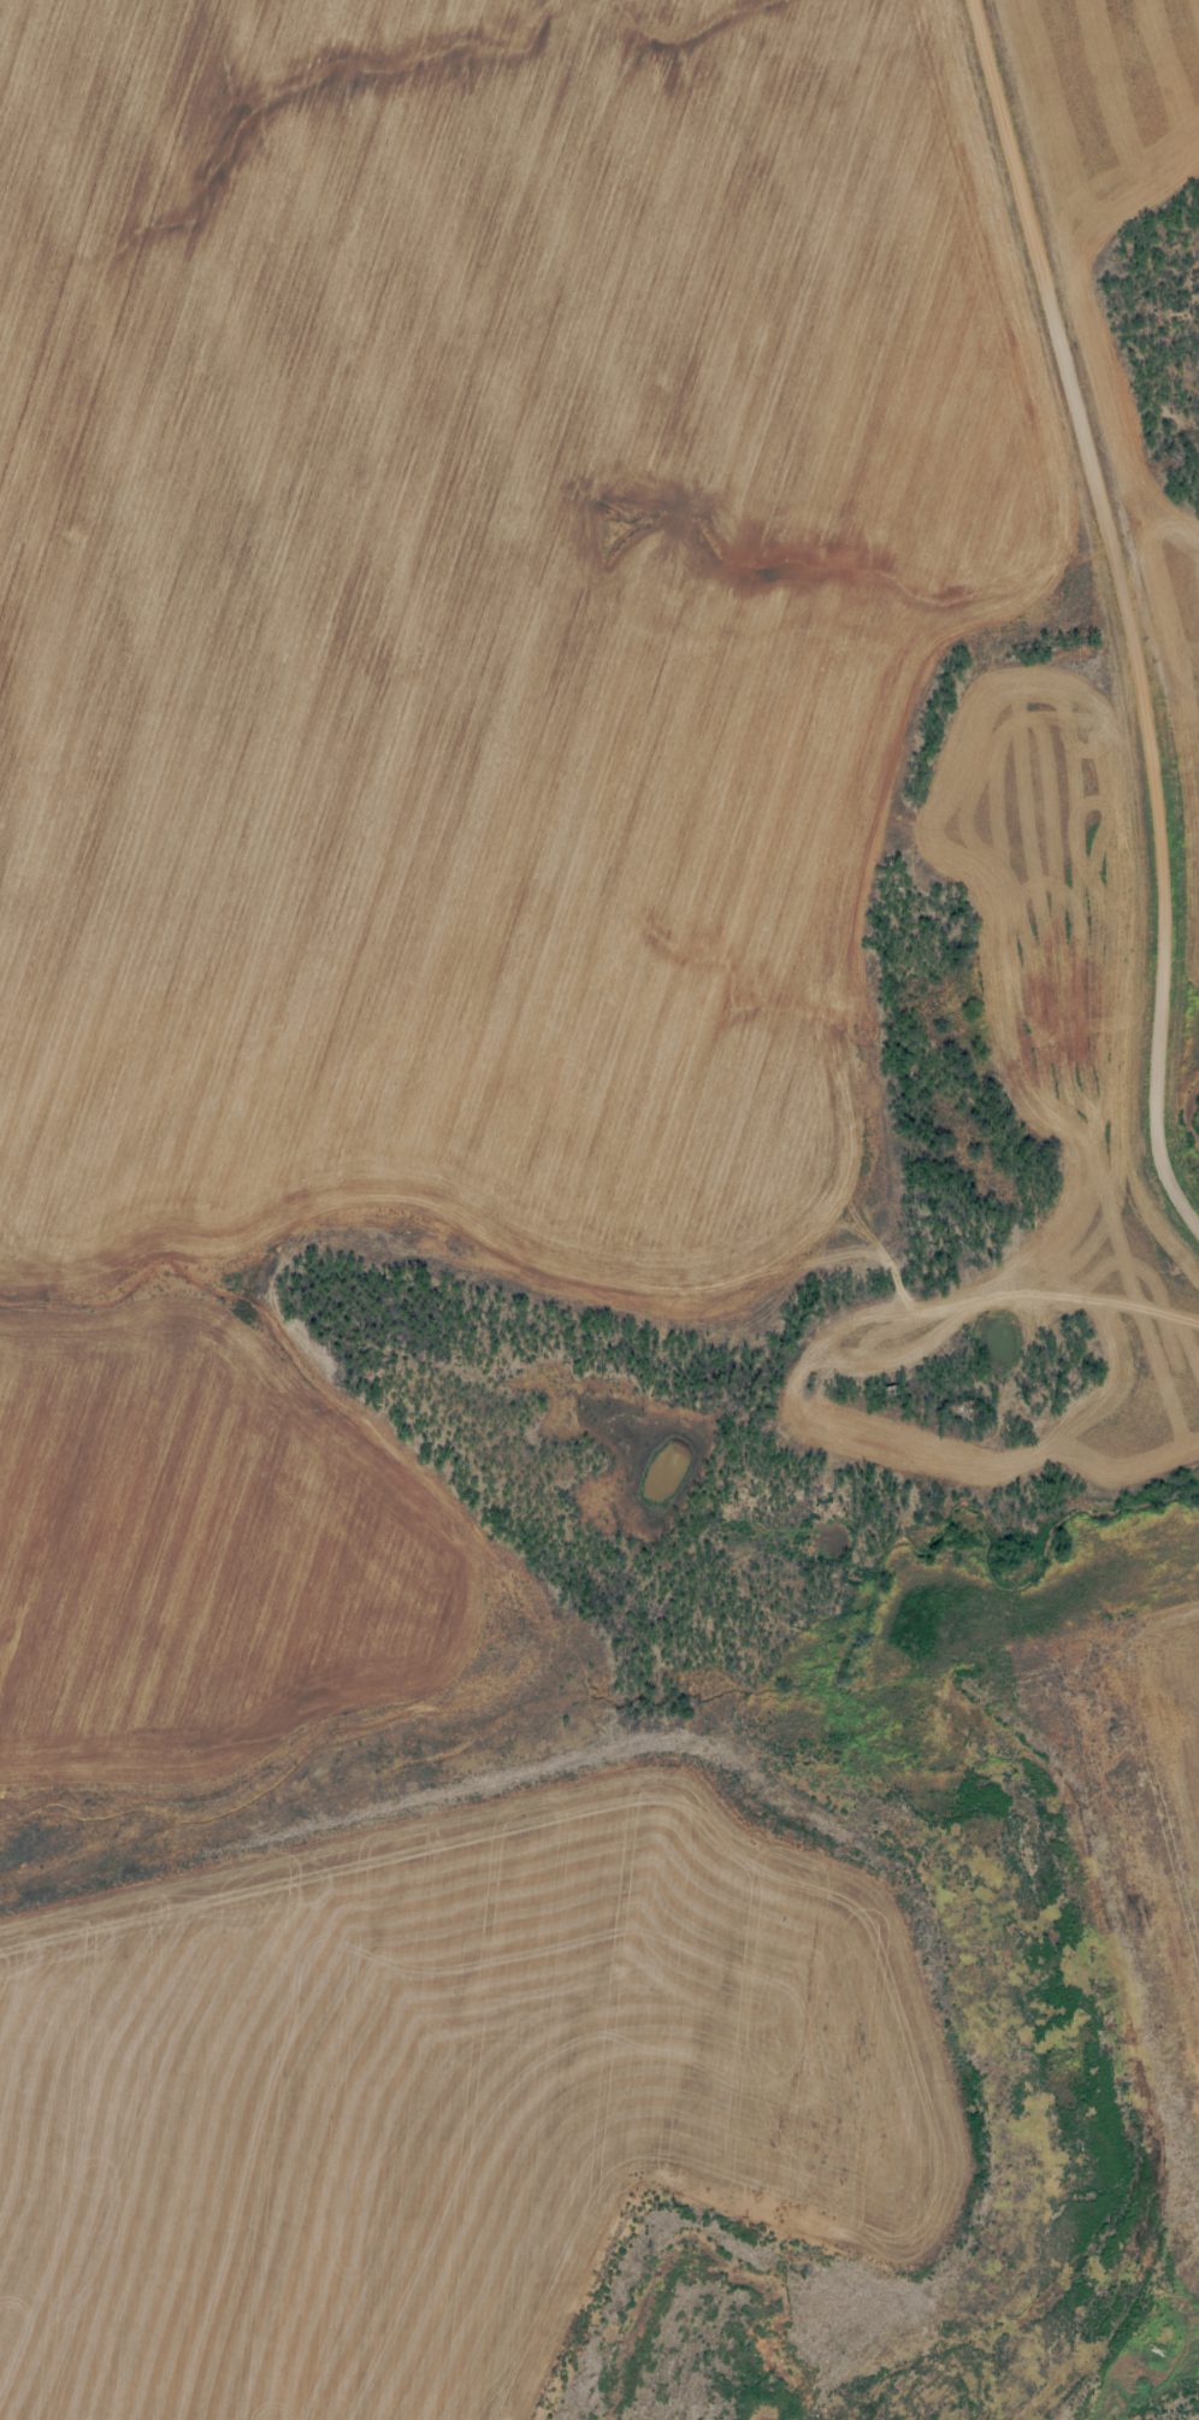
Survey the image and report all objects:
road: (1128, 618)

